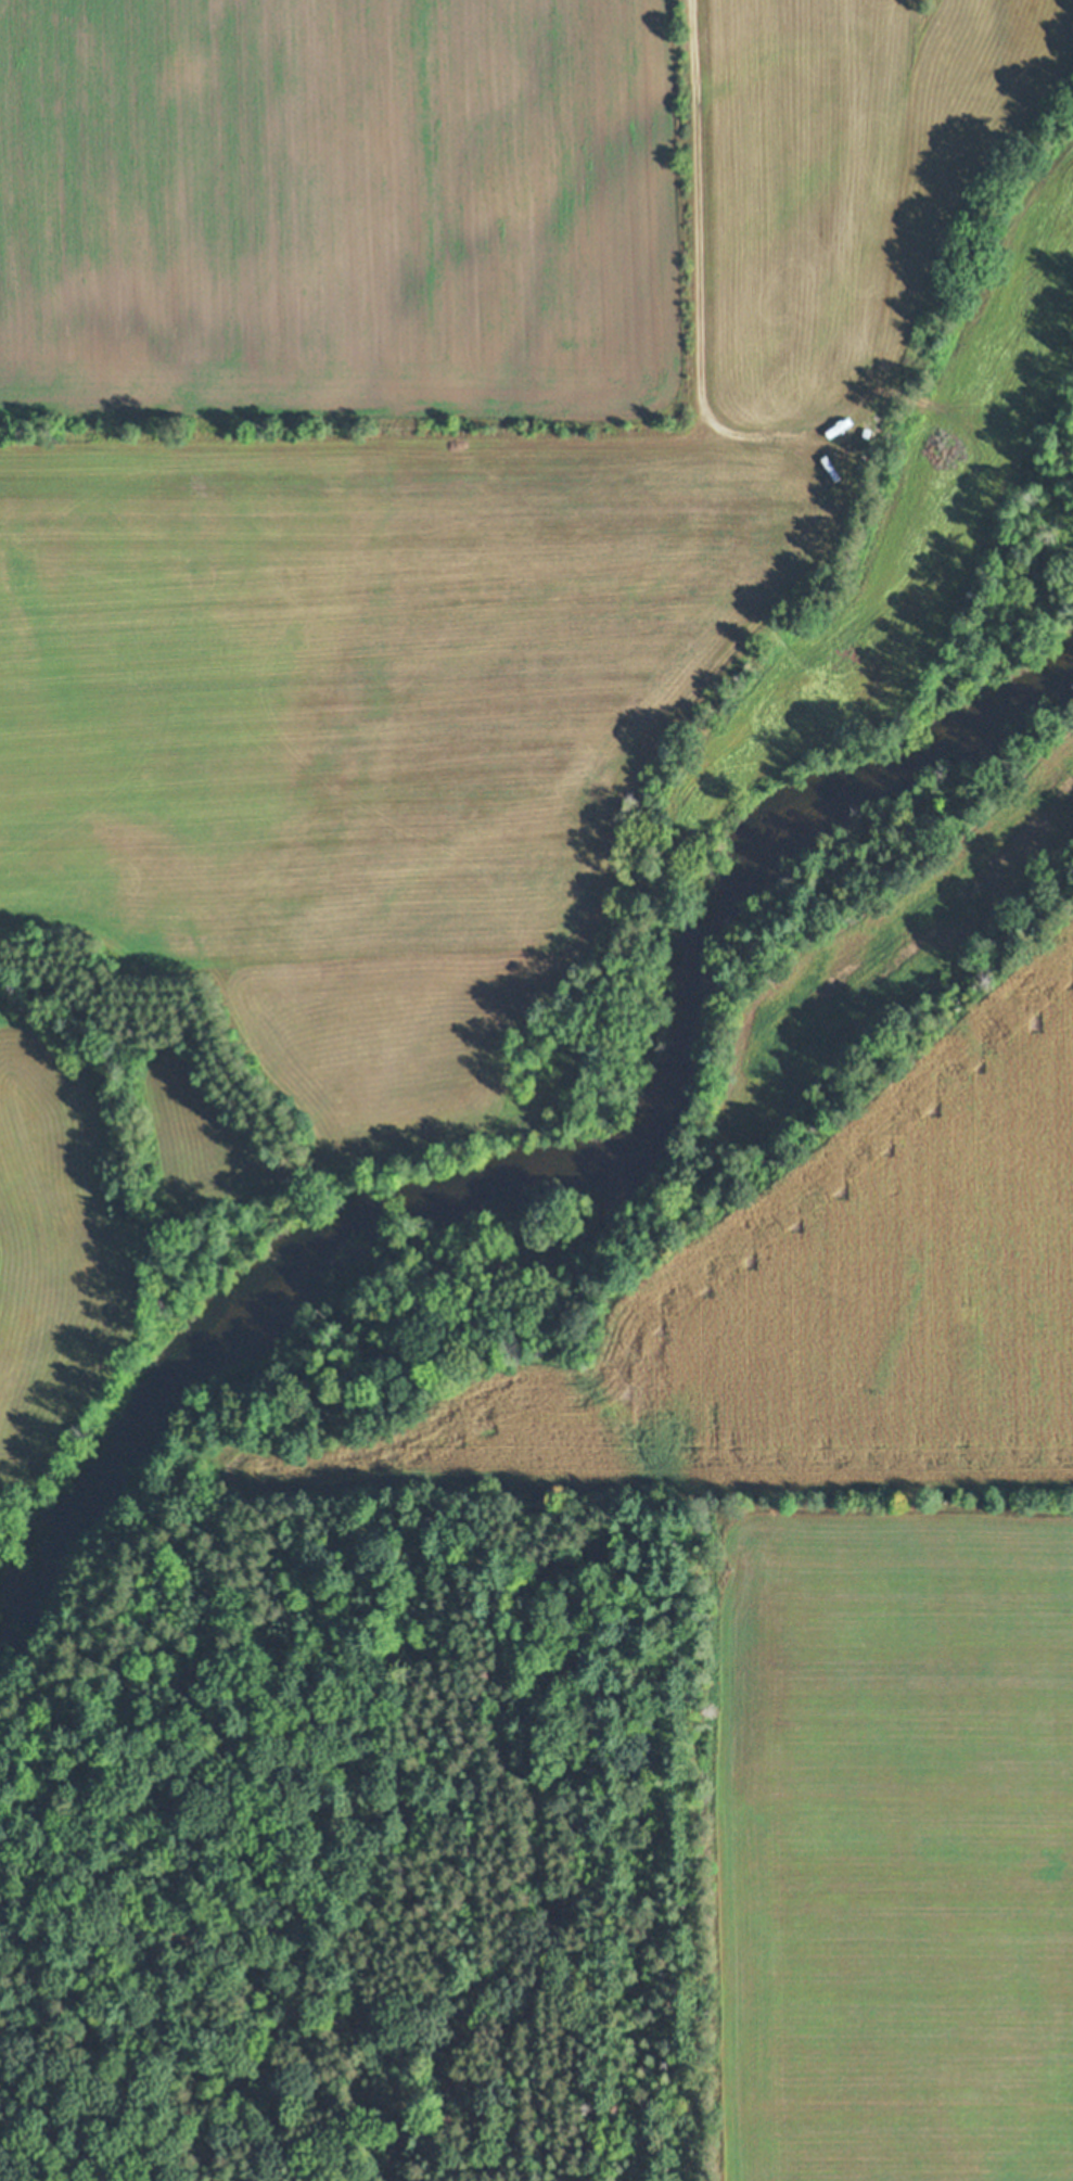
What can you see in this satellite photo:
river: (570, 1164)

